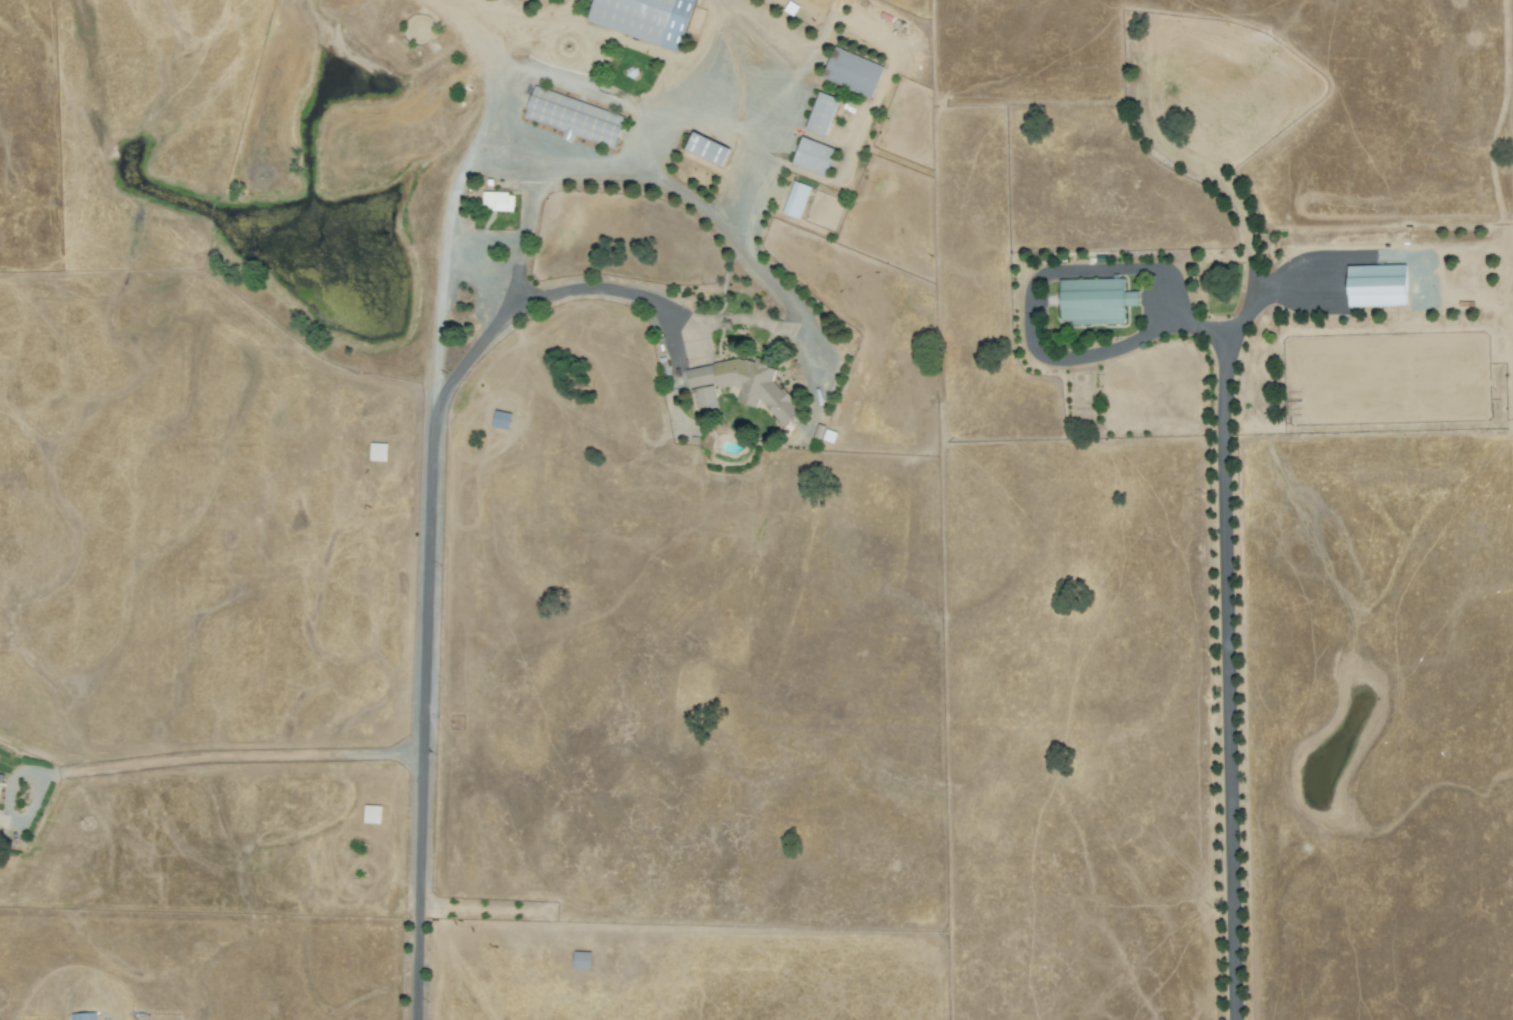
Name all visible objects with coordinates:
building: (641, 19)
building: (850, 73)
building: (819, 114)
building: (571, 117)
building: (702, 149)
building: (809, 156)
road: (629, 157)
building: (794, 200)
building: (495, 202)
building: (1373, 286)
road: (533, 297)
building: (1092, 302)
building: (738, 387)
building: (375, 452)
road: (1230, 486)
road: (429, 547)
road: (226, 753)
building: (1, 782)
building: (579, 961)

